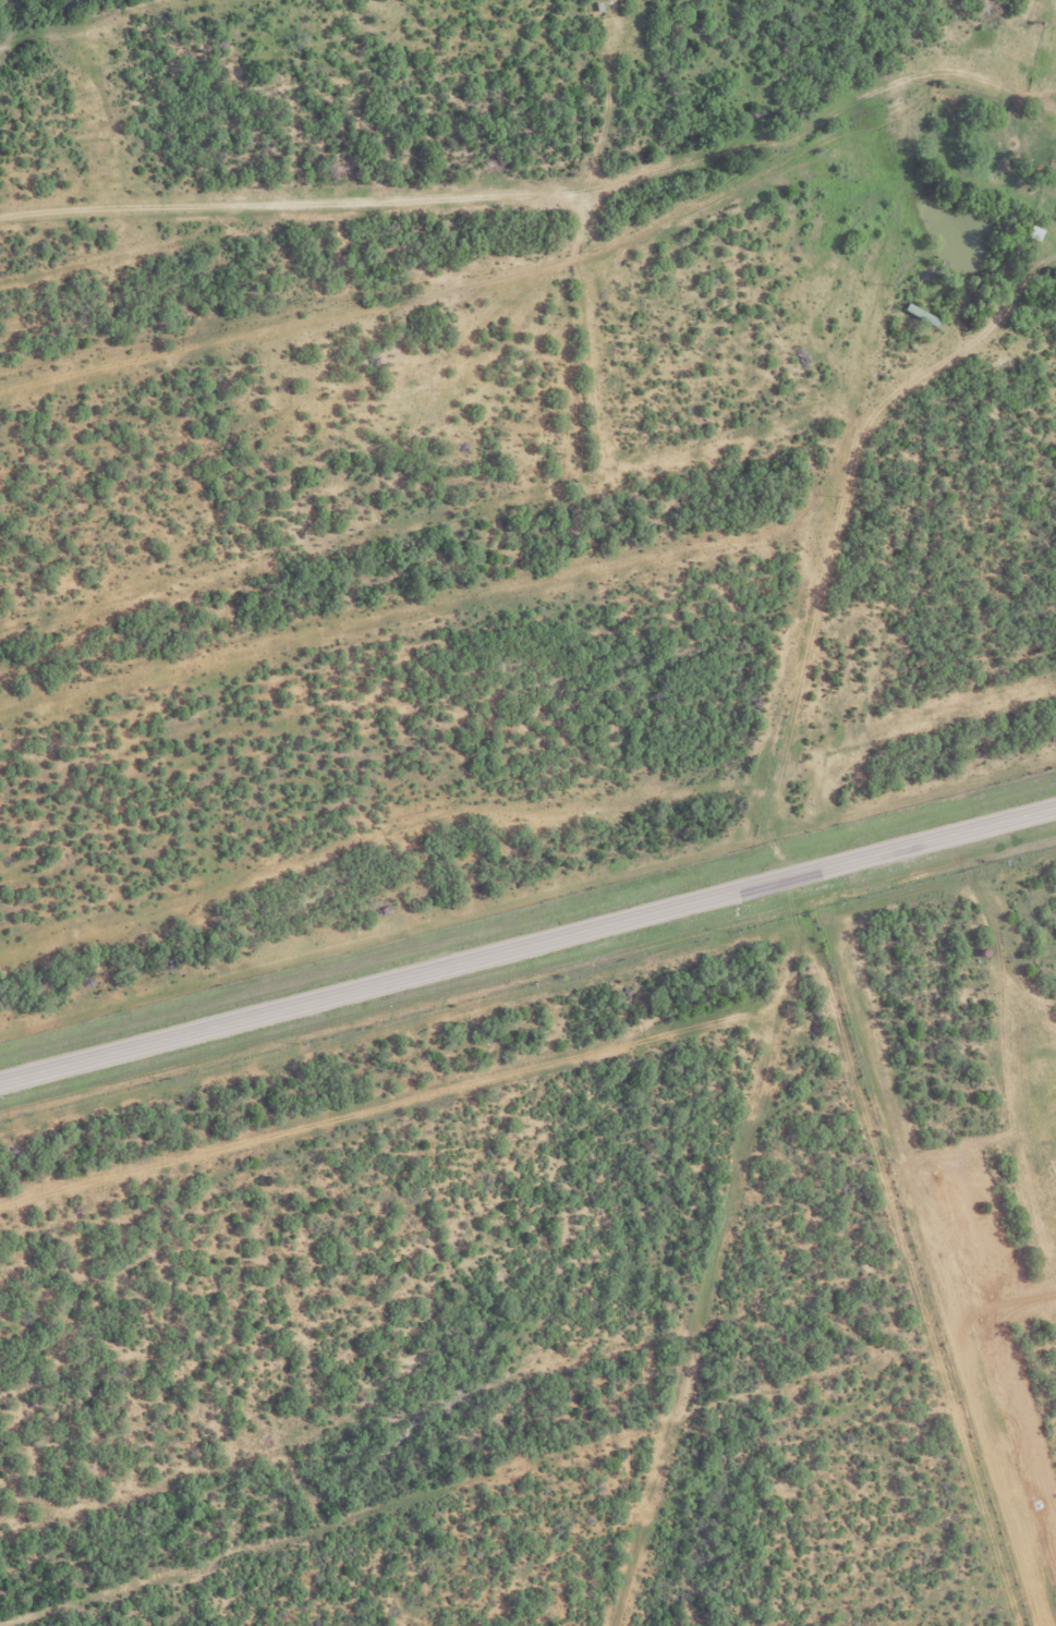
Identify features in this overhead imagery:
road: (546, 205)
building: (1035, 233)
road: (527, 943)

